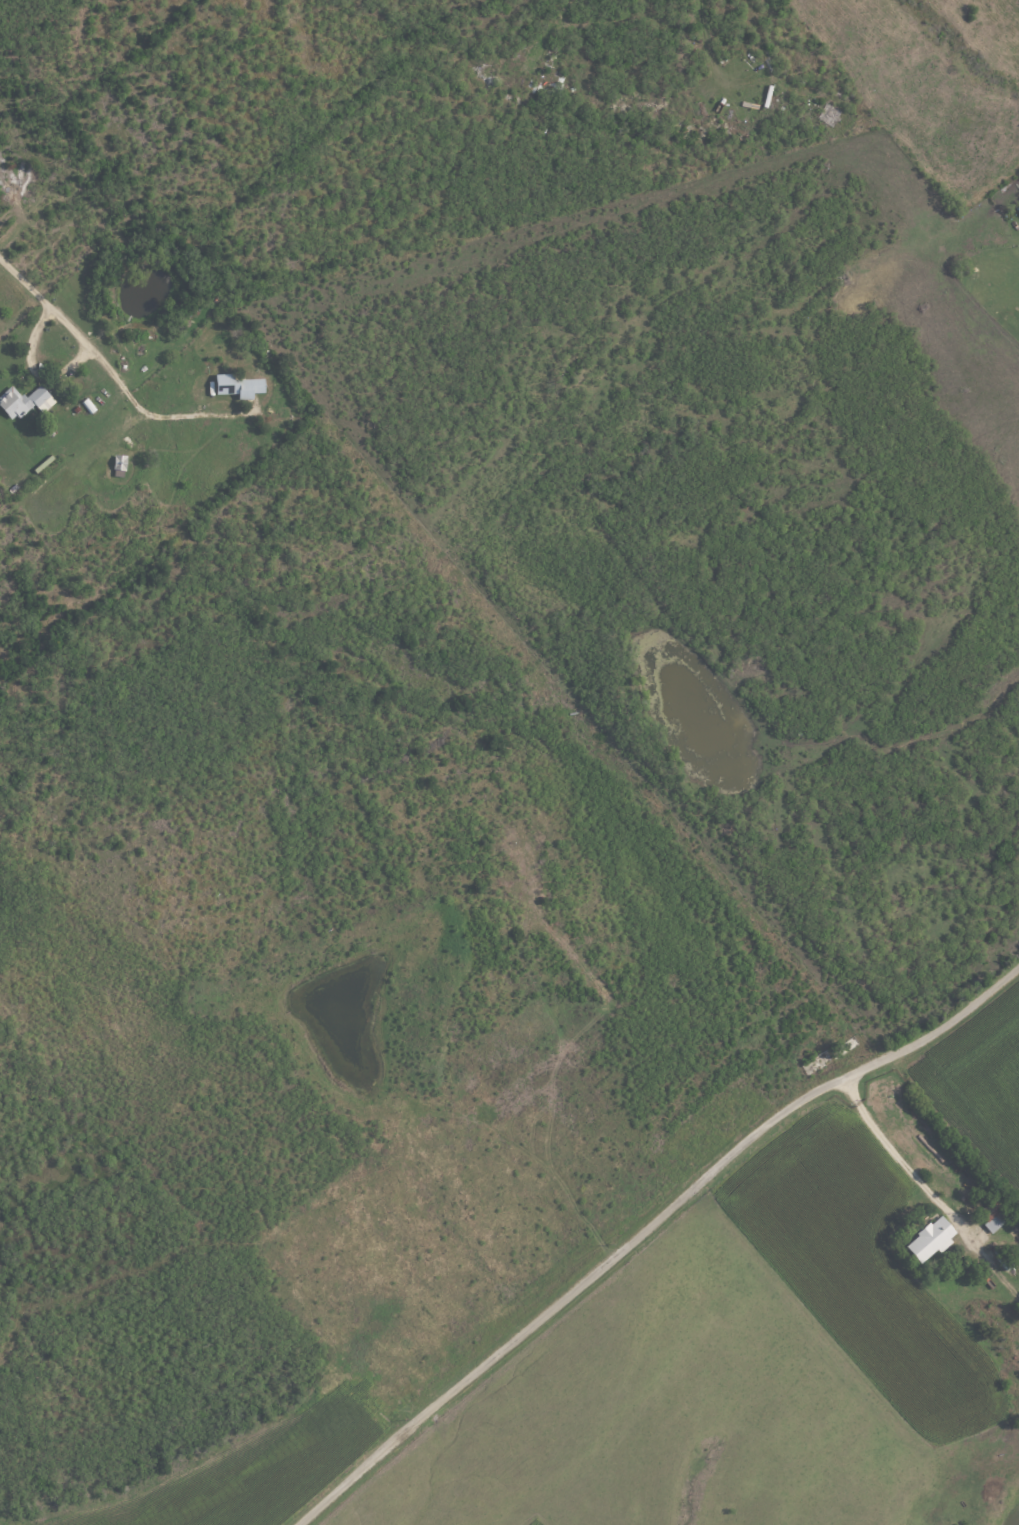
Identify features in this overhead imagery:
road: (71, 332)
road: (32, 373)
building: (237, 386)
building: (24, 402)
road: (185, 418)
road: (927, 1187)
building: (993, 1216)
road: (647, 1228)
building: (930, 1239)

